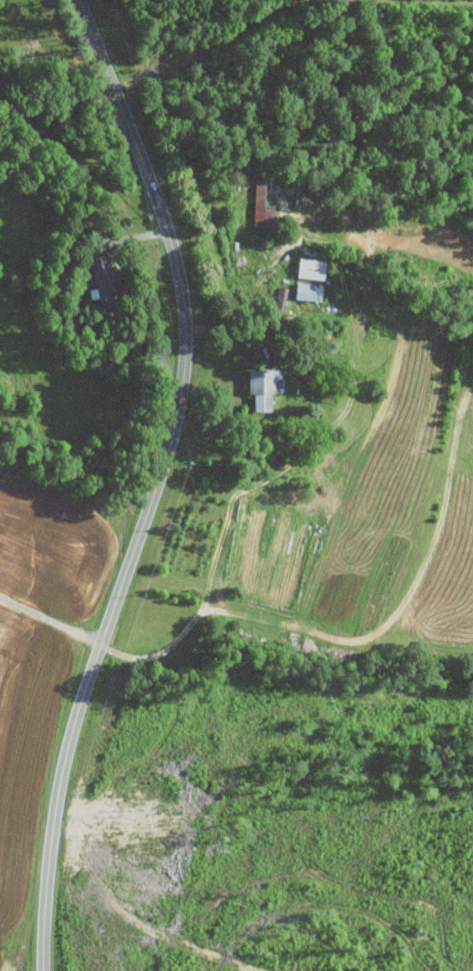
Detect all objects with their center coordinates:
road: (60, 106)
building: (265, 206)
building: (314, 269)
building: (107, 281)
building: (309, 292)
building: (267, 388)
road: (157, 483)
road: (50, 619)

